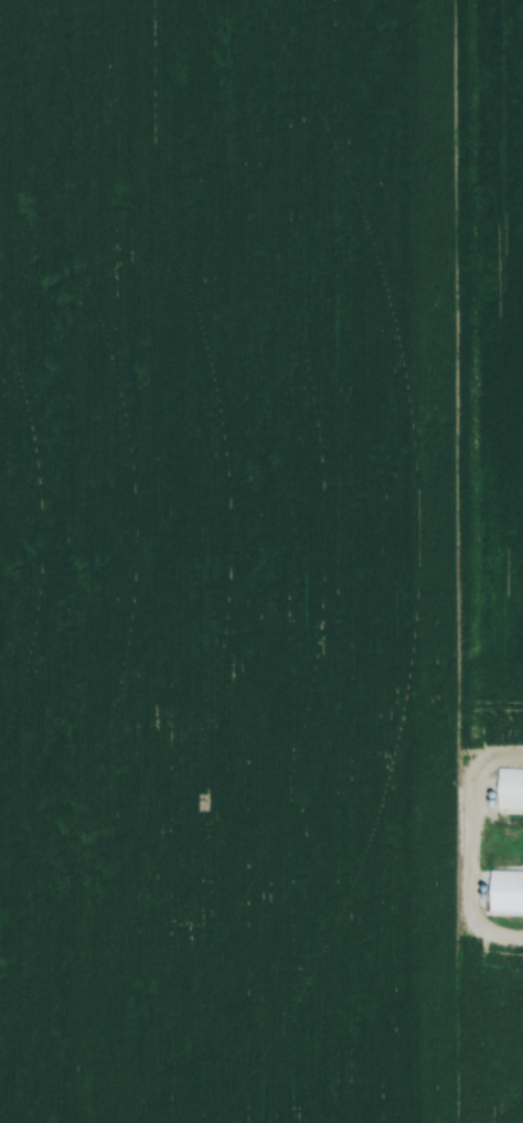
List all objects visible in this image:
building: (509, 789)

